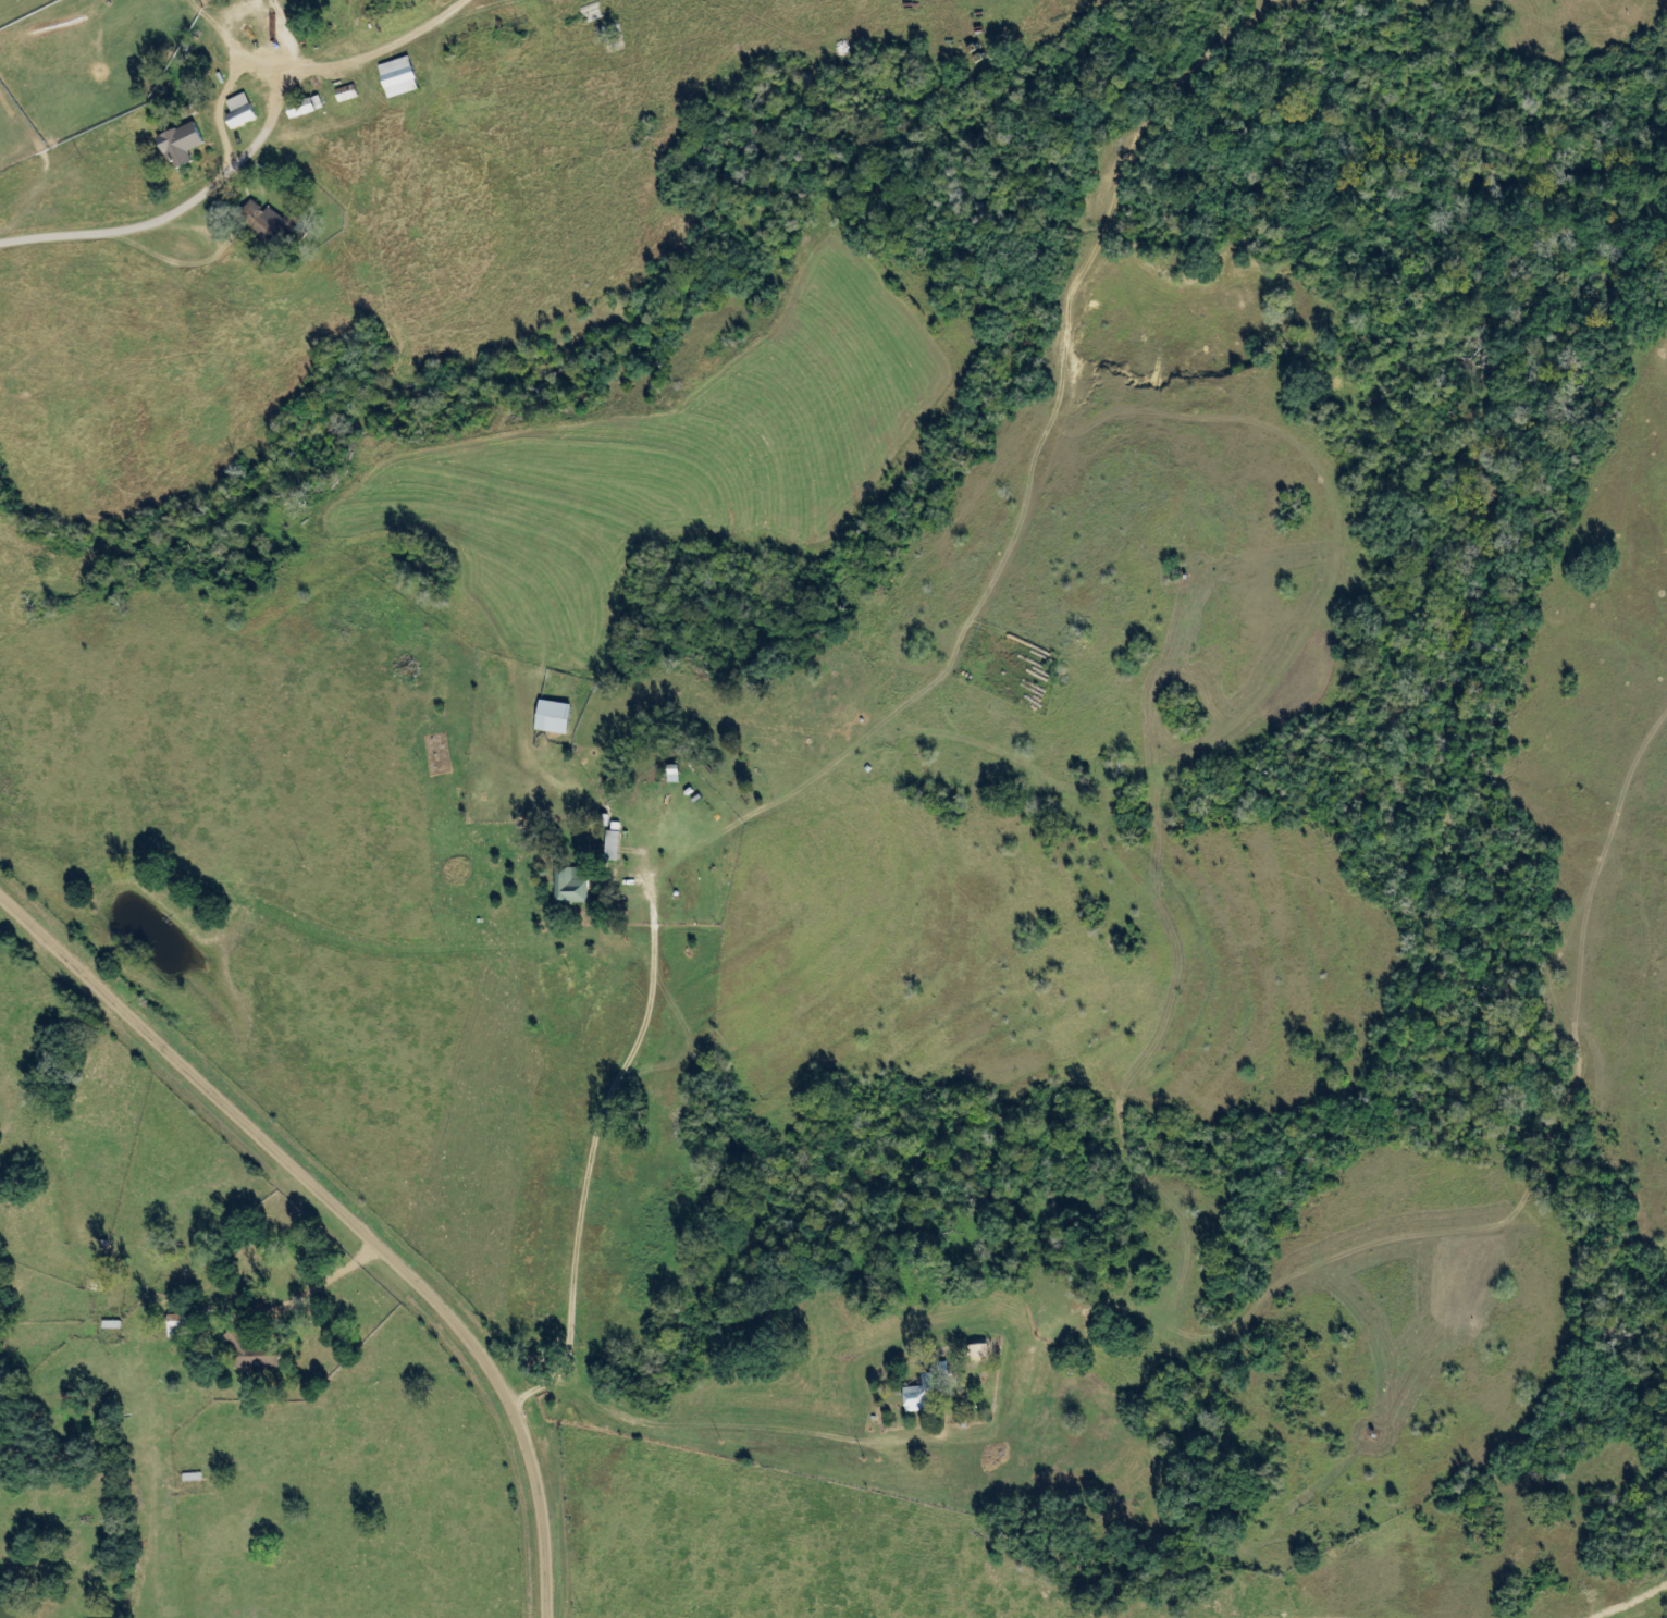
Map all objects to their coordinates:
building: (387, 78)
building: (336, 94)
building: (289, 109)
building: (229, 113)
building: (170, 145)
road: (252, 148)
building: (256, 222)
building: (541, 718)
park: (441, 762)
building: (601, 847)
road: (678, 854)
building: (560, 888)
road: (346, 1214)
road: (1296, 1284)
building: (169, 1326)
building: (240, 1353)
building: (1061, 1392)
building: (906, 1398)

